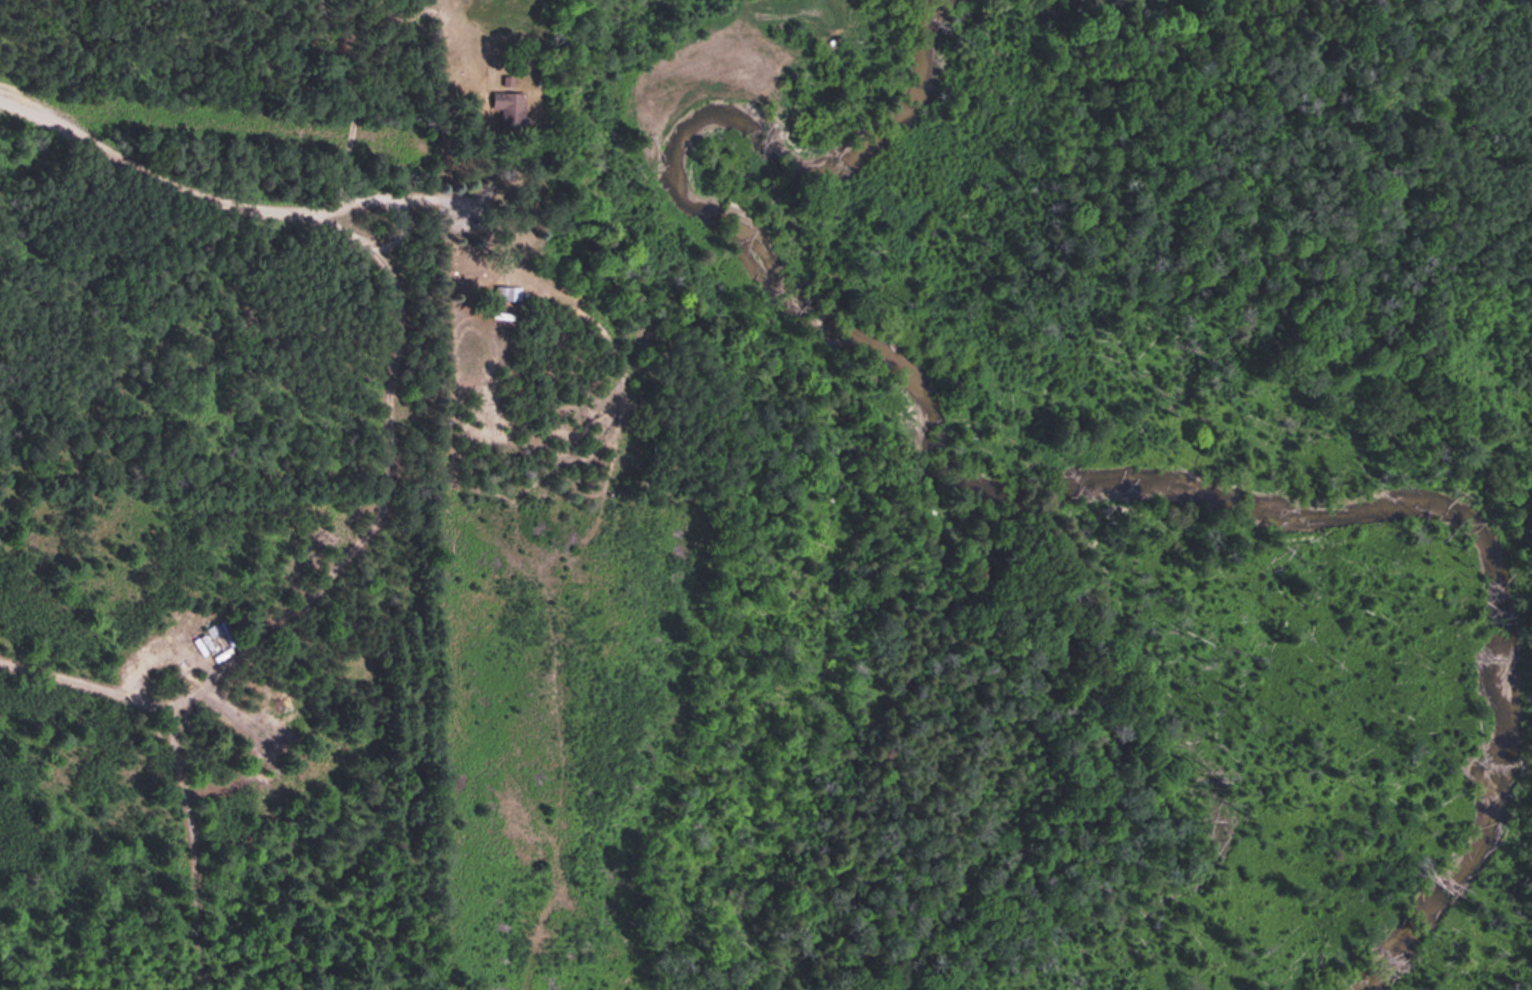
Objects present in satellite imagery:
building: (509, 110)
road: (240, 207)
building: (507, 292)
river: (1016, 470)
building: (281, 702)
river: (1447, 864)

